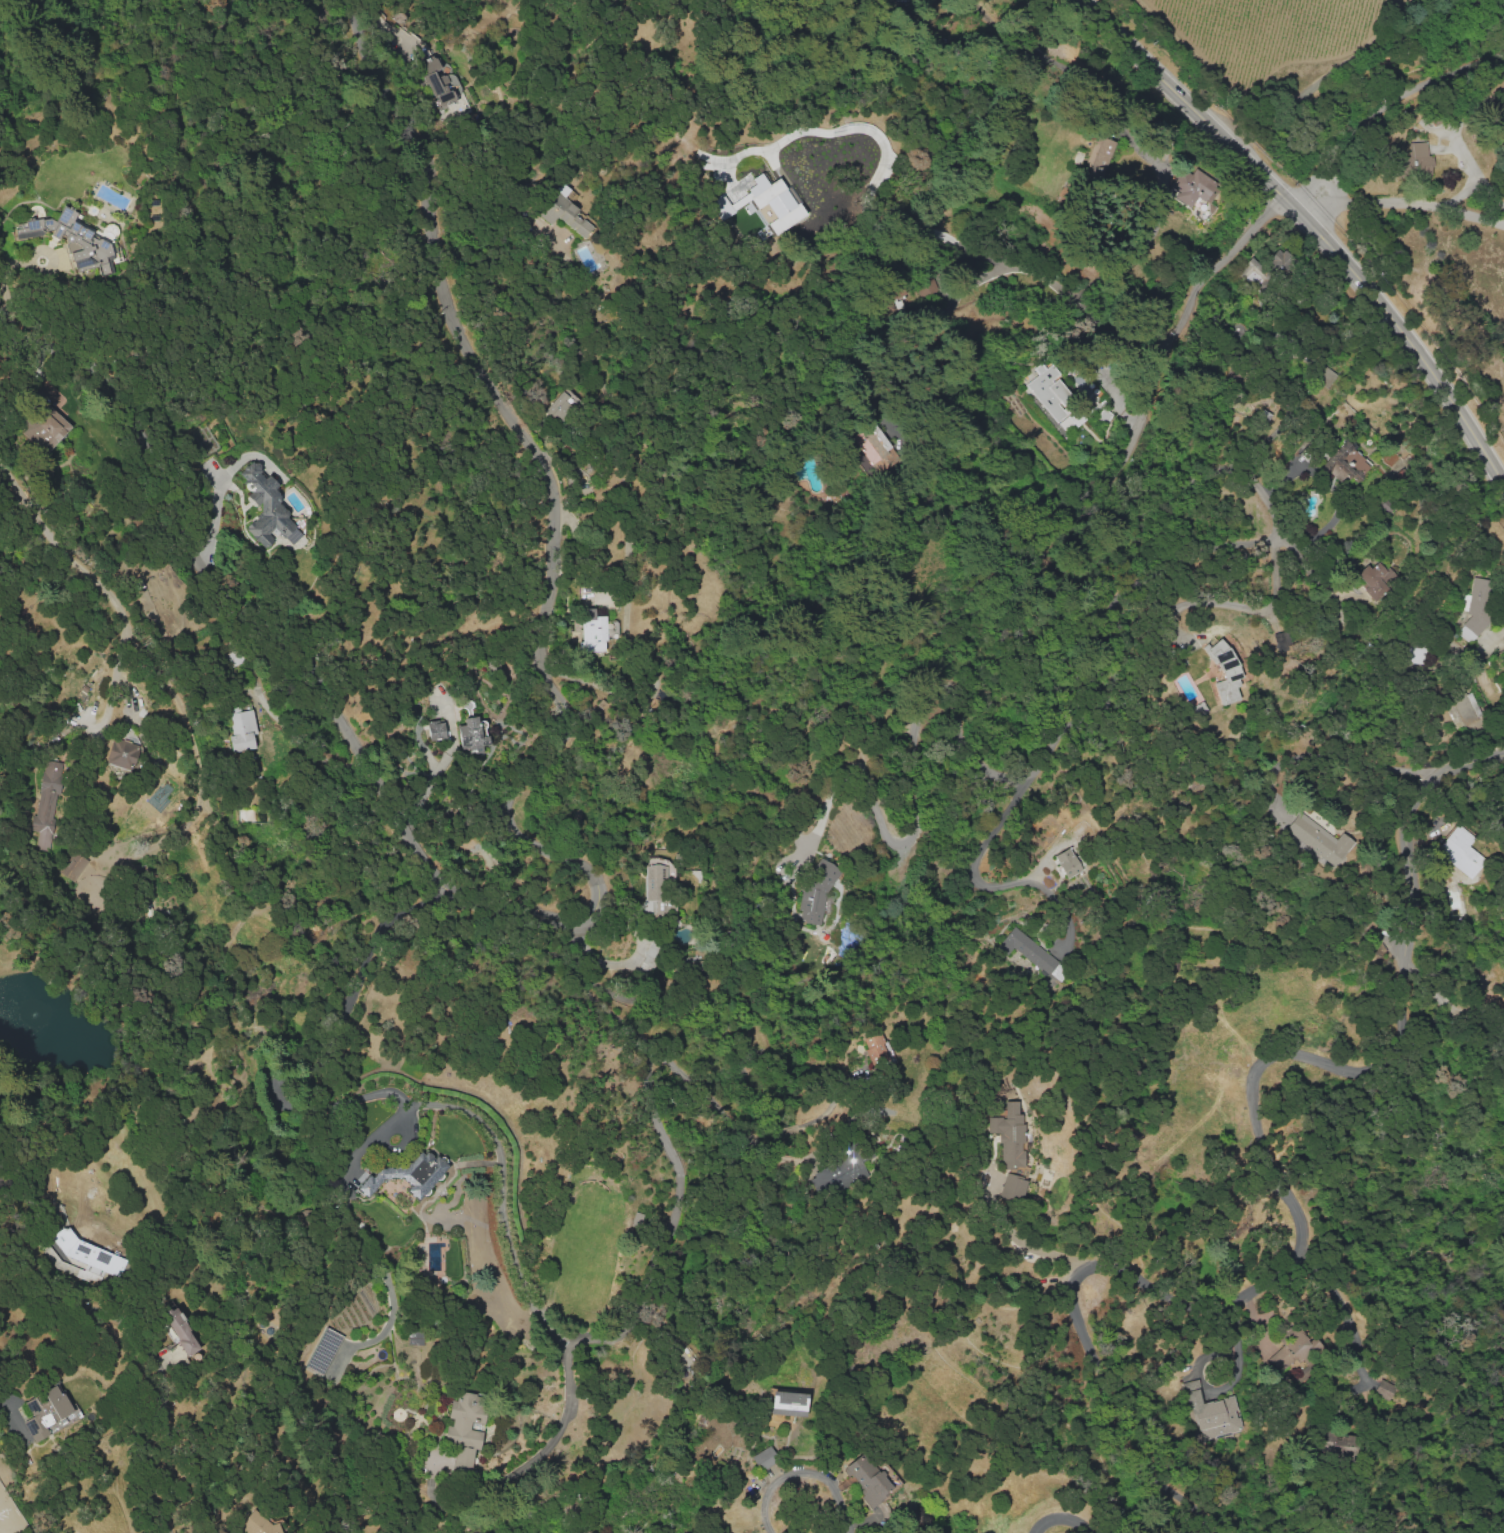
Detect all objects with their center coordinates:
building: (904, 0)
crop: (1255, 41)
building: (438, 82)
road: (1380, 108)
building: (1410, 116)
building: (1100, 158)
building: (1414, 161)
building: (1193, 186)
building: (765, 202)
road: (1407, 207)
building: (562, 213)
road: (1307, 225)
building: (72, 242)
road: (1010, 264)
building: (1254, 273)
building: (1324, 375)
building: (1052, 396)
building: (561, 406)
road: (1139, 423)
building: (45, 429)
building: (873, 444)
building: (1343, 464)
road: (218, 488)
building: (265, 506)
road: (53, 544)
building: (1374, 578)
building: (1474, 609)
road: (1118, 627)
building: (592, 631)
building: (1281, 640)
building: (1415, 654)
building: (1224, 672)
building: (1461, 710)
building: (435, 729)
building: (241, 730)
building: (470, 735)
building: (123, 753)
road: (1341, 762)
road: (920, 783)
building: (47, 803)
building: (1318, 839)
building: (1460, 851)
road: (560, 856)
road: (974, 858)
building: (1066, 862)
building: (71, 865)
building: (816, 891)
building: (658, 892)
building: (652, 952)
building: (1030, 953)
road: (1434, 993)
road: (1488, 1019)
building: (873, 1049)
road: (656, 1054)
road: (1095, 1062)
building: (1009, 1135)
building: (838, 1172)
road: (1278, 1173)
building: (408, 1175)
road: (500, 1184)
building: (1012, 1187)
building: (88, 1252)
road: (644, 1287)
road: (1341, 1308)
building: (180, 1331)
building: (418, 1338)
road: (127, 1341)
building: (1291, 1349)
building: (322, 1351)
building: (1382, 1389)
building: (787, 1403)
building: (47, 1413)
building: (1212, 1413)
building: (464, 1428)
building: (1337, 1440)
building: (763, 1458)
road: (804, 1471)
building: (867, 1479)
road: (1061, 1517)

